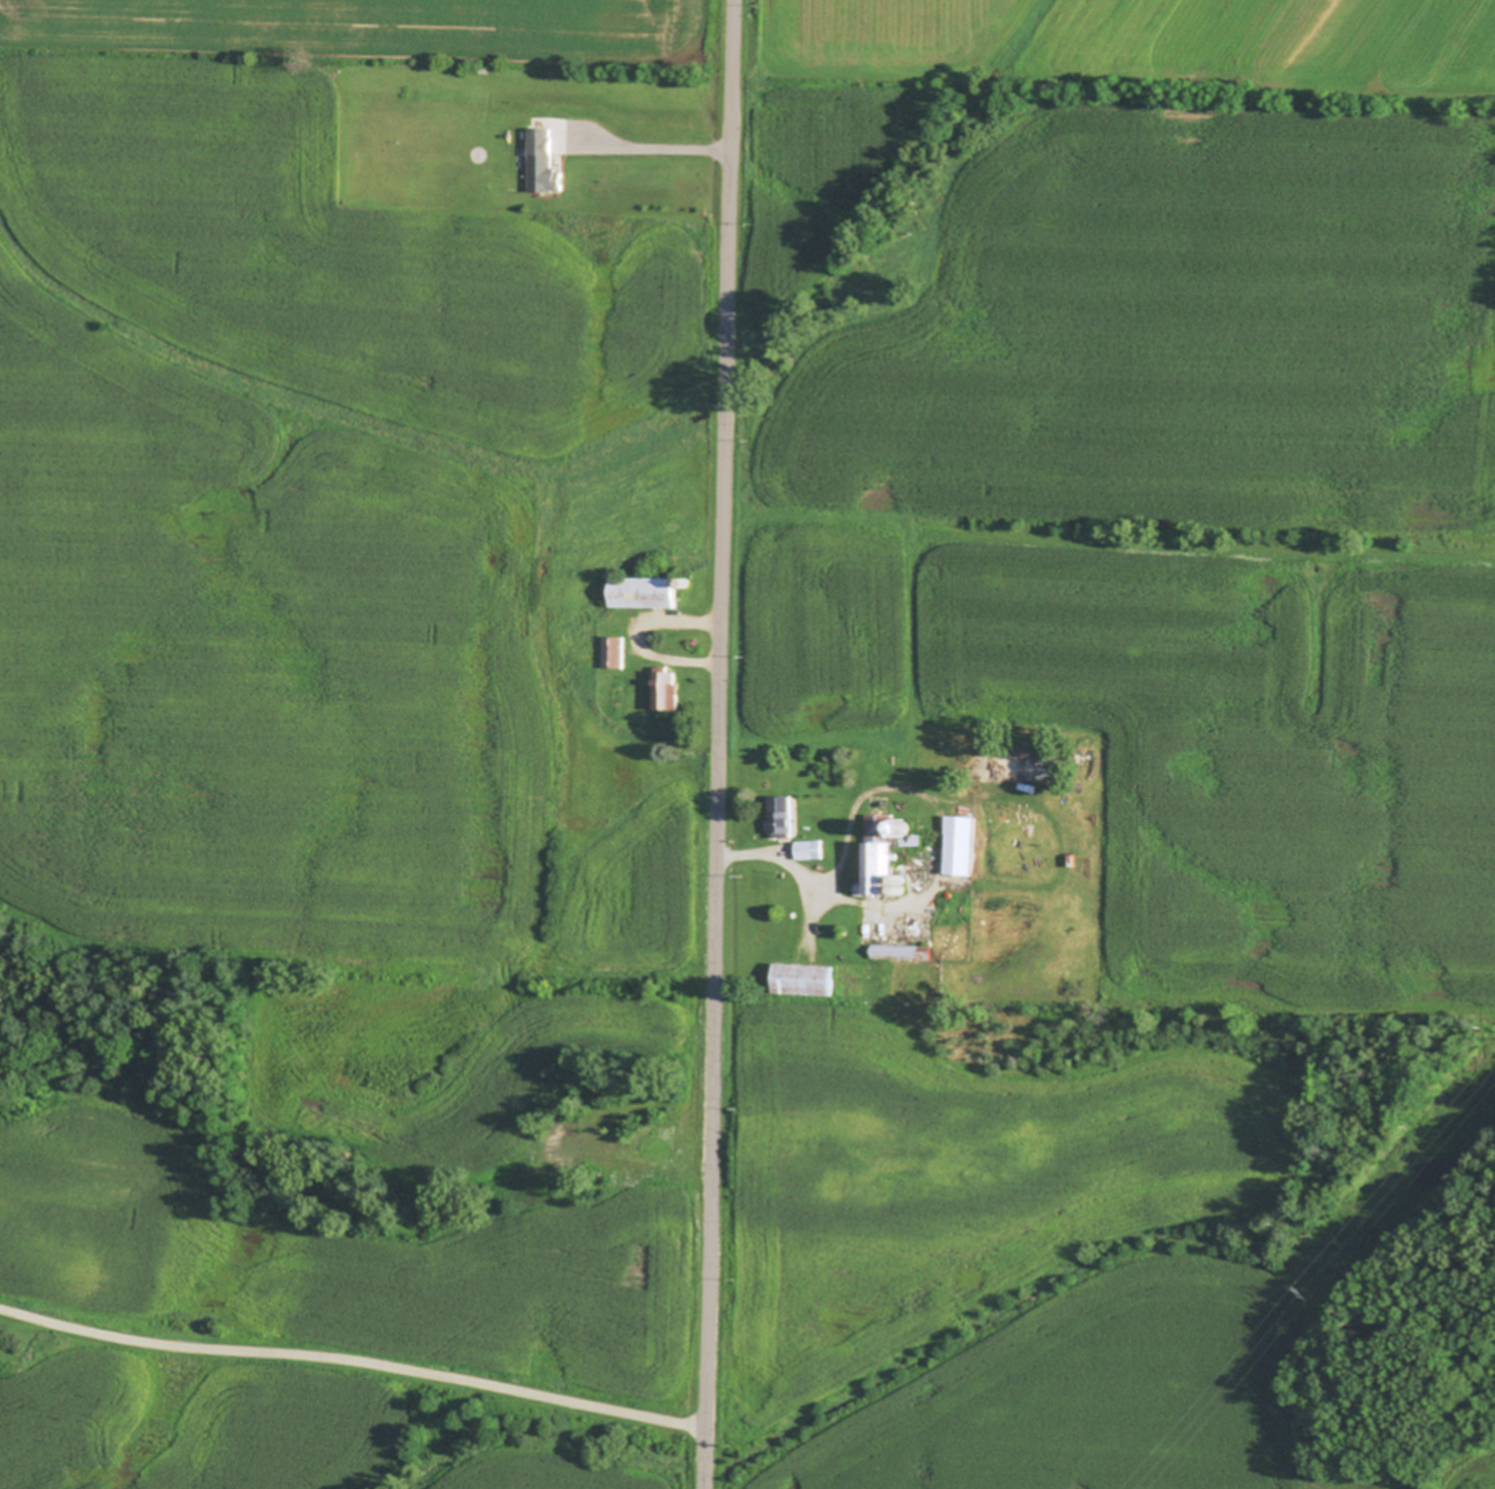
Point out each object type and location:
building: (545, 160)
building: (687, 582)
building: (645, 591)
building: (615, 650)
building: (667, 689)
road: (721, 744)
building: (783, 816)
building: (962, 844)
building: (811, 848)
building: (835, 848)
building: (883, 853)
building: (902, 878)
building: (902, 889)
building: (903, 951)
building: (805, 977)
power tower: (1300, 1293)
road: (364, 1355)

